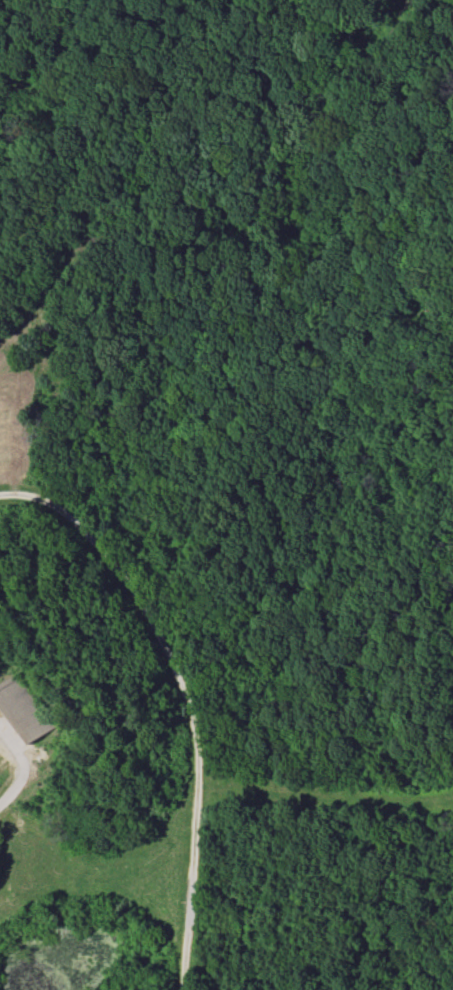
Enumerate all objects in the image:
road: (184, 699)
road: (20, 770)

